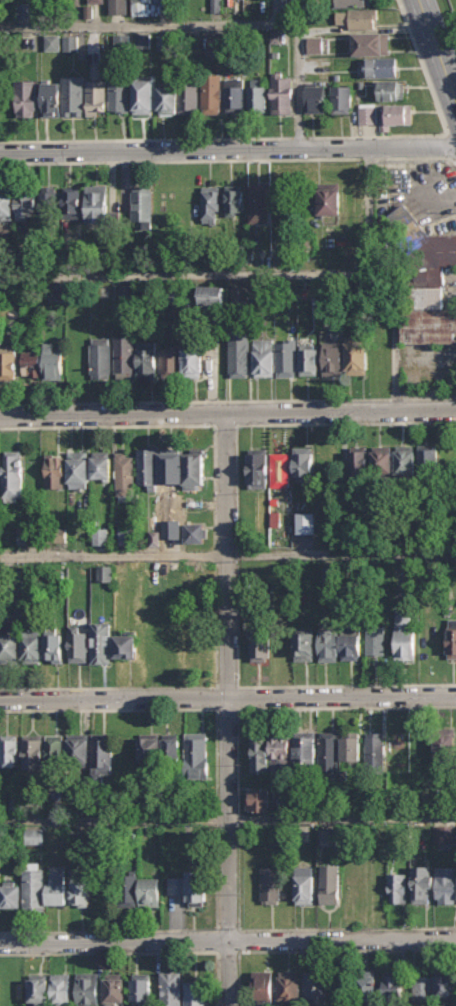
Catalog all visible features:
building: (95, 1)
building: (212, 6)
park: (453, 6)
building: (118, 7)
building: (151, 7)
building: (26, 11)
road: (278, 13)
building: (355, 14)
road: (144, 27)
road: (365, 31)
building: (215, 41)
building: (52, 42)
building: (70, 43)
building: (122, 43)
building: (142, 43)
building: (164, 43)
building: (311, 43)
building: (370, 43)
road: (438, 48)
building: (381, 67)
road: (300, 84)
building: (96, 90)
building: (390, 90)
building: (212, 94)
building: (282, 94)
building: (73, 96)
building: (119, 96)
building: (143, 96)
building: (234, 96)
building: (257, 96)
building: (51, 97)
building: (26, 98)
building: (178, 98)
building: (316, 99)
building: (341, 100)
building: (367, 114)
building: (396, 116)
road: (445, 132)
road: (299, 138)
road: (145, 140)
road: (449, 147)
road: (228, 150)
road: (421, 158)
road: (372, 159)
road: (180, 161)
road: (434, 195)
building: (329, 198)
building: (234, 199)
building: (6, 203)
building: (48, 203)
building: (72, 203)
building: (258, 203)
building: (96, 204)
building: (211, 204)
building: (26, 205)
building: (142, 205)
road: (371, 213)
building: (400, 217)
road: (191, 277)
building: (428, 289)
building: (52, 292)
building: (240, 294)
building: (210, 295)
road: (397, 339)
building: (239, 353)
building: (124, 357)
building: (193, 357)
building: (274, 357)
building: (357, 357)
building: (100, 358)
building: (8, 359)
building: (308, 359)
building: (332, 359)
building: (146, 360)
building: (53, 361)
building: (169, 361)
building: (31, 363)
road: (430, 398)
road: (397, 399)
road: (194, 401)
road: (228, 413)
road: (284, 423)
road: (168, 425)
road: (225, 425)
building: (382, 460)
building: (357, 461)
building: (405, 461)
building: (429, 461)
building: (303, 463)
building: (102, 465)
building: (182, 466)
building: (257, 468)
building: (78, 469)
building: (146, 469)
building: (55, 470)
building: (280, 470)
building: (12, 473)
building: (124, 476)
building: (305, 523)
building: (169, 526)
building: (55, 533)
building: (196, 533)
building: (97, 534)
building: (126, 534)
building: (23, 535)
building: (150, 537)
road: (227, 557)
road: (215, 563)
building: (105, 573)
building: (328, 575)
building: (404, 636)
building: (451, 639)
building: (375, 640)
building: (101, 642)
building: (78, 644)
building: (126, 644)
building: (304, 644)
building: (340, 646)
building: (9, 647)
building: (32, 647)
building: (54, 648)
building: (260, 648)
road: (285, 686)
road: (169, 688)
road: (227, 698)
road: (238, 708)
road: (296, 708)
road: (147, 709)
road: (228, 710)
building: (444, 744)
building: (159, 746)
building: (351, 746)
building: (78, 748)
building: (306, 748)
building: (374, 748)
building: (9, 751)
building: (43, 752)
building: (270, 752)
building: (329, 752)
building: (102, 755)
building: (197, 755)
building: (259, 800)
road: (216, 807)
road: (238, 819)
road: (228, 821)
building: (441, 833)
building: (34, 836)
building: (328, 836)
building: (329, 883)
building: (270, 884)
building: (421, 884)
building: (305, 885)
building: (445, 885)
building: (176, 886)
building: (34, 887)
building: (57, 887)
building: (196, 887)
building: (397, 887)
building: (128, 890)
building: (149, 892)
building: (79, 893)
building: (10, 894)
road: (297, 928)
road: (159, 930)
road: (227, 940)
road: (239, 950)
road: (347, 950)
road: (135, 952)
road: (239, 979)
building: (367, 984)
building: (263, 985)
building: (445, 985)
building: (393, 987)
building: (288, 988)
building: (315, 988)
building: (39, 989)
building: (87, 989)
building: (114, 989)
building: (141, 989)
building: (171, 989)
building: (61, 990)
building: (423, 990)
building: (195, 993)

